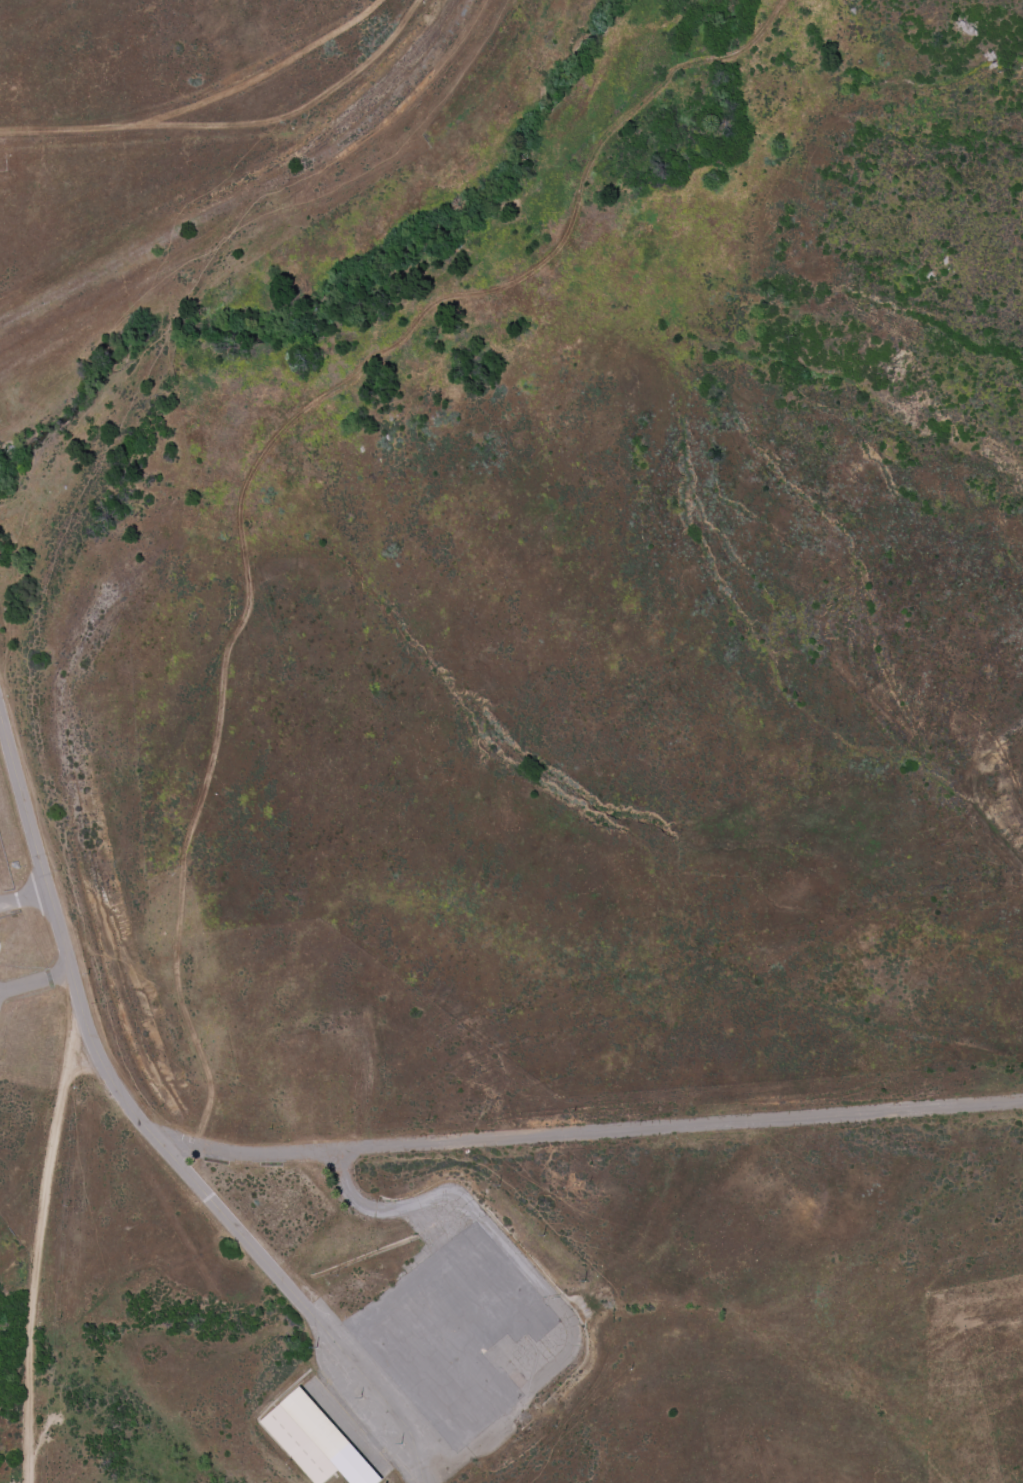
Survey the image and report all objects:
road: (25, 899)
road: (36, 982)
road: (149, 1130)
road: (579, 1134)
road: (520, 1289)
building: (314, 1441)

